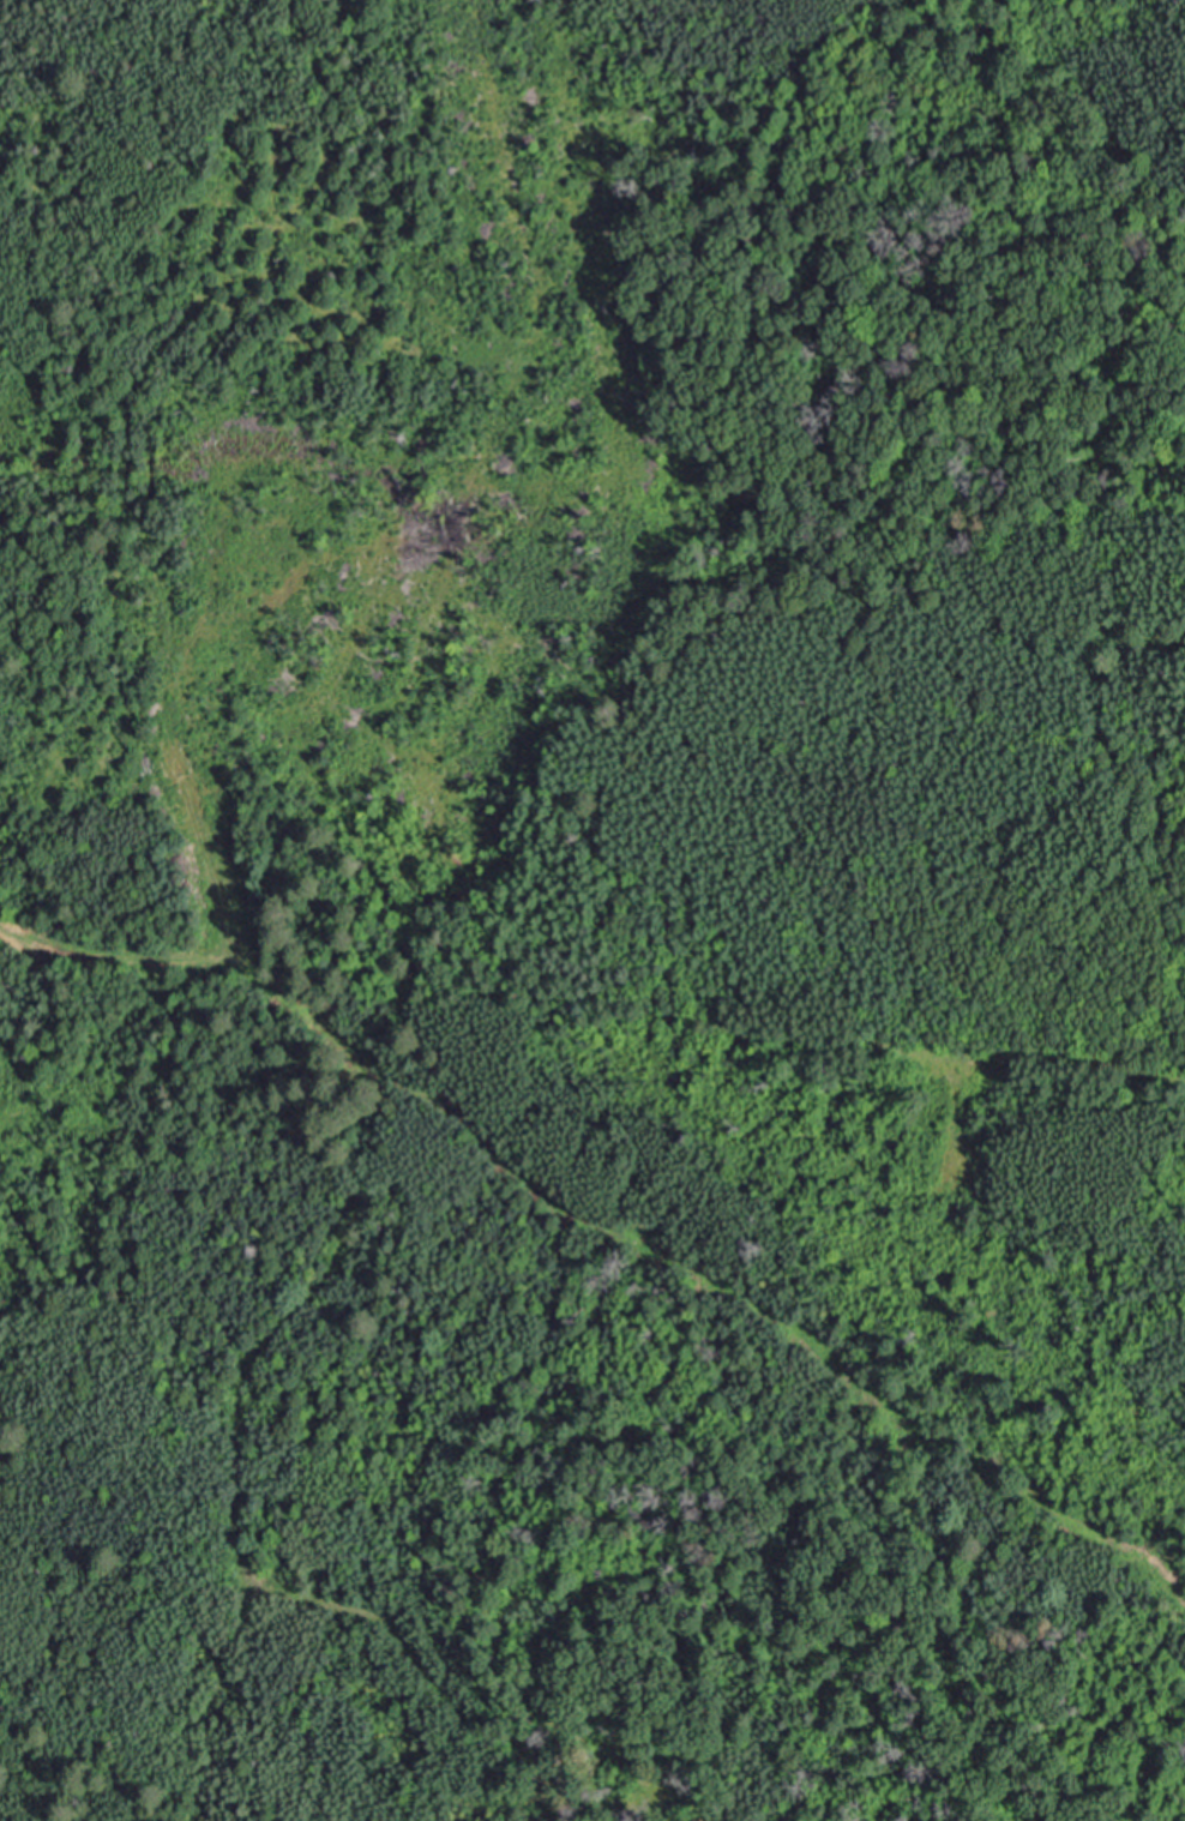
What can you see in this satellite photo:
road: (589, 1011)

